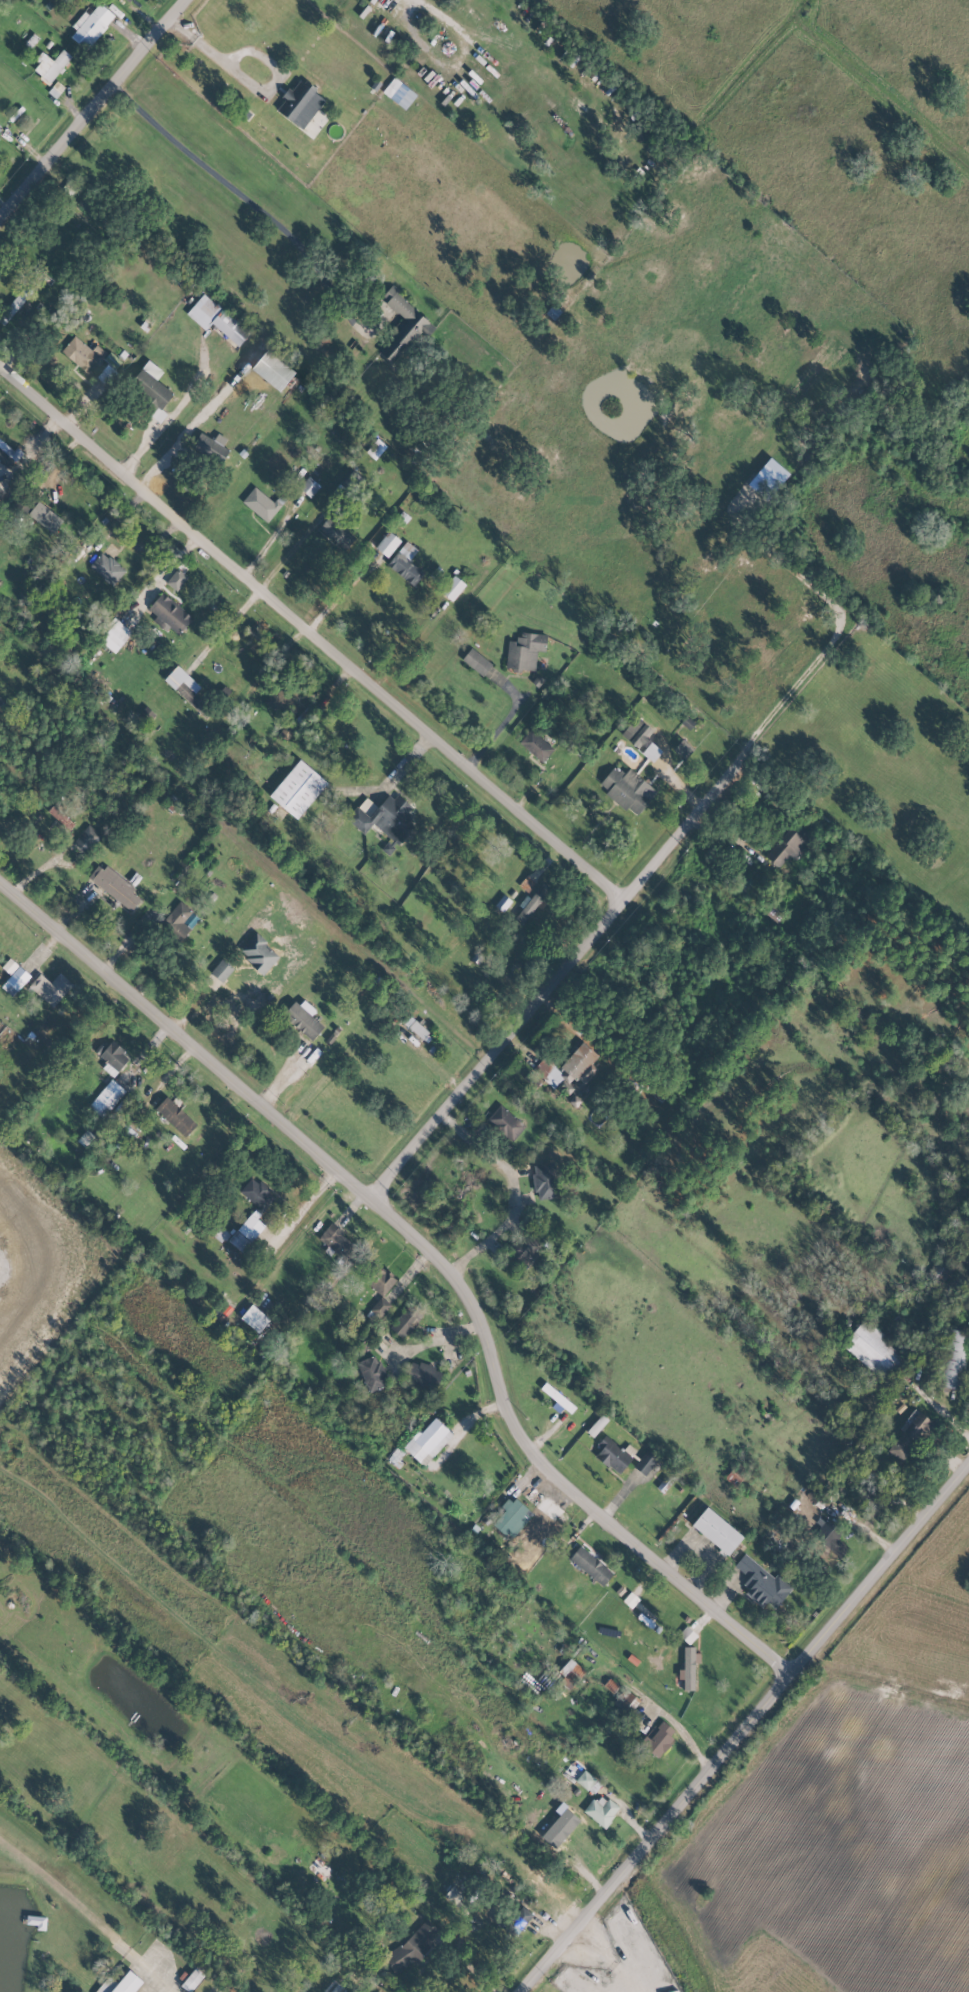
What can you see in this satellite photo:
building: (127, 0)
building: (90, 25)
building: (50, 66)
road: (252, 86)
building: (405, 98)
building: (299, 104)
road: (96, 114)
road: (234, 192)
building: (15, 302)
building: (216, 319)
building: (402, 327)
building: (82, 354)
building: (151, 390)
building: (207, 446)
building: (375, 448)
building: (7, 454)
building: (309, 487)
building: (1, 491)
building: (260, 504)
building: (44, 517)
building: (336, 533)
building: (387, 544)
building: (405, 564)
building: (106, 568)
building: (176, 579)
building: (452, 588)
road: (340, 594)
building: (168, 614)
road: (225, 626)
road: (311, 631)
building: (114, 635)
building: (524, 651)
building: (476, 661)
building: (0, 703)
building: (281, 703)
road: (498, 727)
building: (636, 732)
building: (536, 745)
building: (683, 749)
building: (651, 751)
building: (297, 789)
building: (627, 789)
building: (60, 817)
building: (383, 817)
building: (86, 839)
building: (788, 845)
building: (113, 886)
building: (502, 902)
building: (531, 902)
building: (178, 921)
building: (259, 952)
building: (8, 967)
building: (222, 969)
building: (15, 981)
road: (557, 981)
building: (50, 988)
building: (302, 1019)
building: (416, 1028)
building: (330, 1037)
building: (113, 1057)
road: (430, 1060)
building: (303, 1063)
building: (573, 1067)
road: (165, 1080)
building: (106, 1098)
building: (175, 1115)
building: (505, 1122)
building: (122, 1136)
building: (86, 1139)
building: (544, 1180)
road: (513, 1192)
building: (256, 1193)
road: (307, 1205)
building: (245, 1232)
building: (220, 1234)
building: (335, 1240)
road: (432, 1254)
building: (379, 1279)
building: (377, 1310)
building: (254, 1318)
building: (405, 1321)
road: (441, 1334)
building: (874, 1351)
building: (952, 1358)
building: (372, 1372)
building: (423, 1375)
building: (908, 1436)
building: (428, 1441)
building: (612, 1455)
building: (645, 1462)
building: (510, 1518)
building: (716, 1531)
building: (829, 1537)
building: (590, 1565)
building: (761, 1582)
building: (688, 1667)
building: (627, 1704)
road: (748, 1731)
building: (658, 1738)
building: (585, 1779)
road: (490, 1797)
building: (601, 1810)
building: (319, 1868)
building: (453, 1894)
building: (523, 1915)
building: (411, 1947)
road: (609, 1961)
road: (474, 1968)
building: (192, 1980)
building: (127, 1983)
building: (96, 1991)

